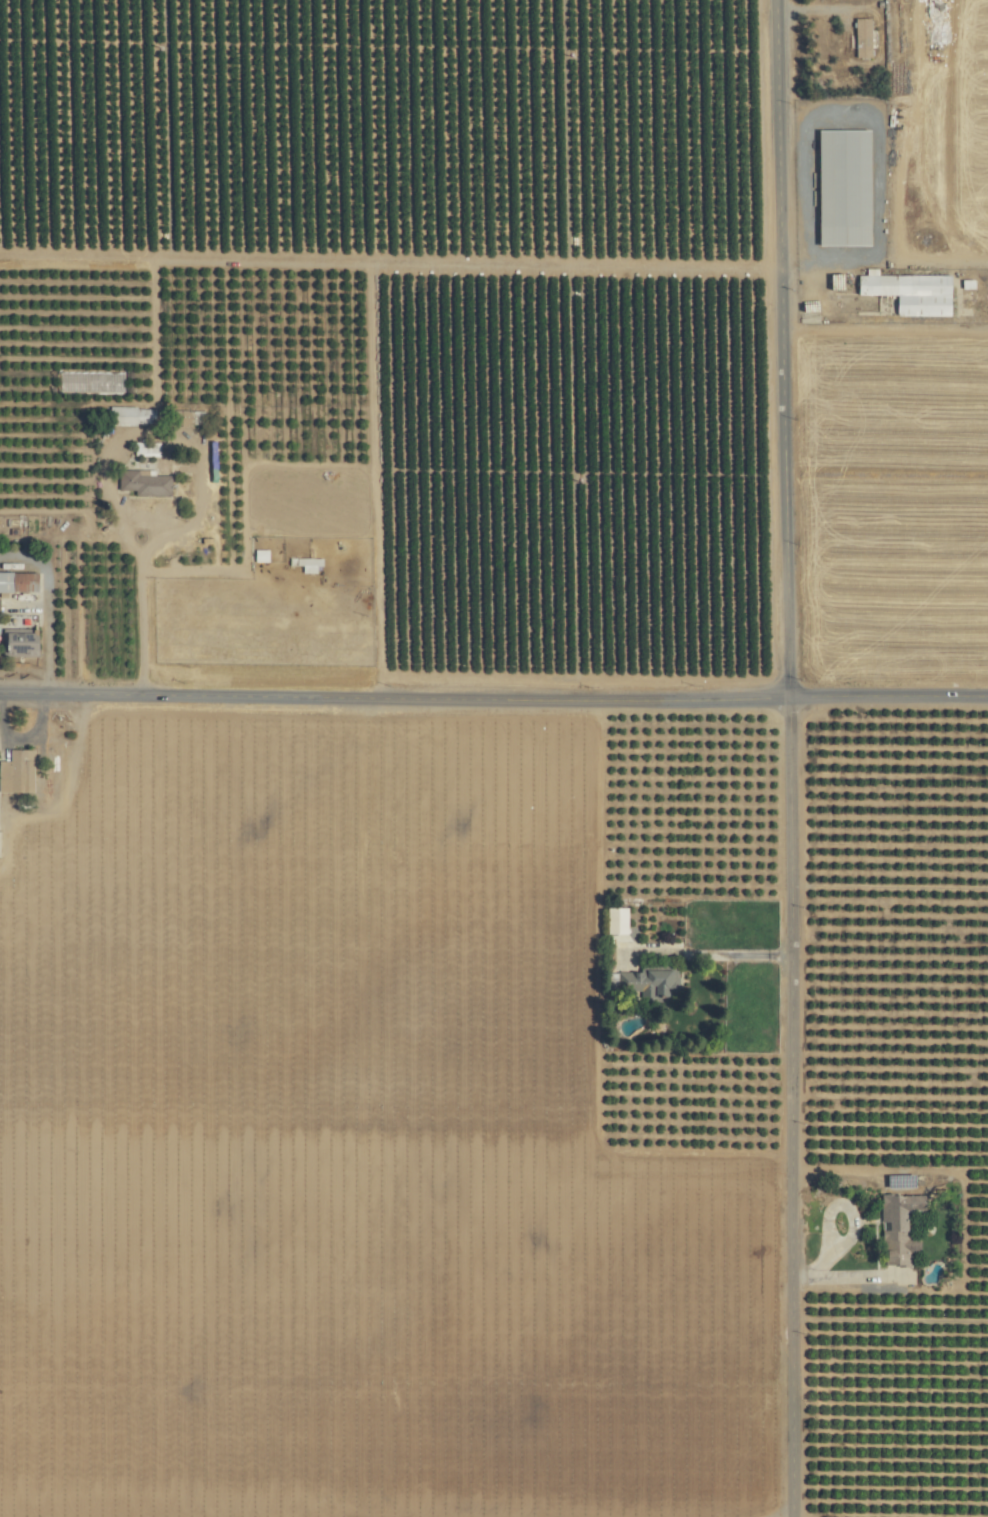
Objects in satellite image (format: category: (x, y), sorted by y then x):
building: (861, 37)
building: (842, 186)
road: (392, 264)
building: (909, 292)
building: (130, 416)
building: (146, 448)
building: (143, 483)
building: (17, 582)
building: (3, 604)
road: (45, 607)
road: (138, 613)
building: (19, 642)
road: (493, 699)
road: (40, 731)
crop: (494, 758)
road: (789, 758)
building: (16, 771)
building: (615, 920)
building: (644, 983)
building: (898, 1227)
road: (850, 1231)

